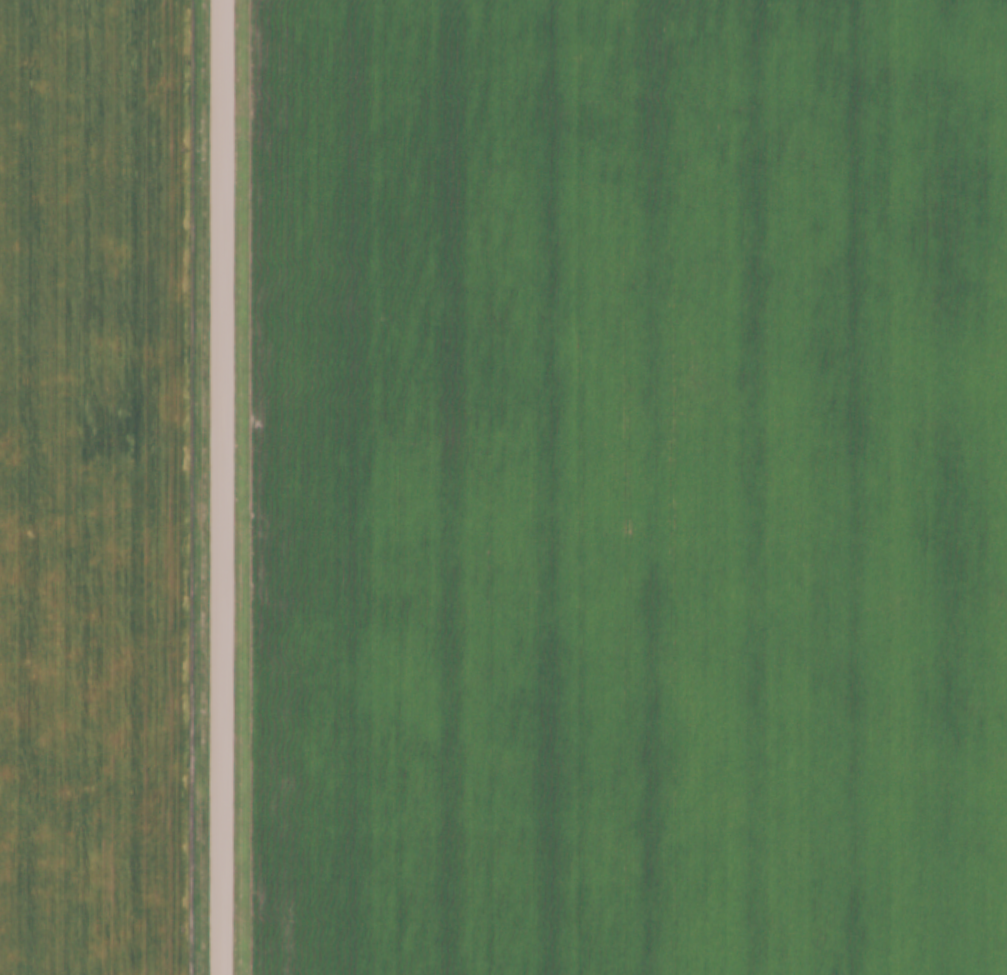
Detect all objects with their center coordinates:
road: (222, 487)

